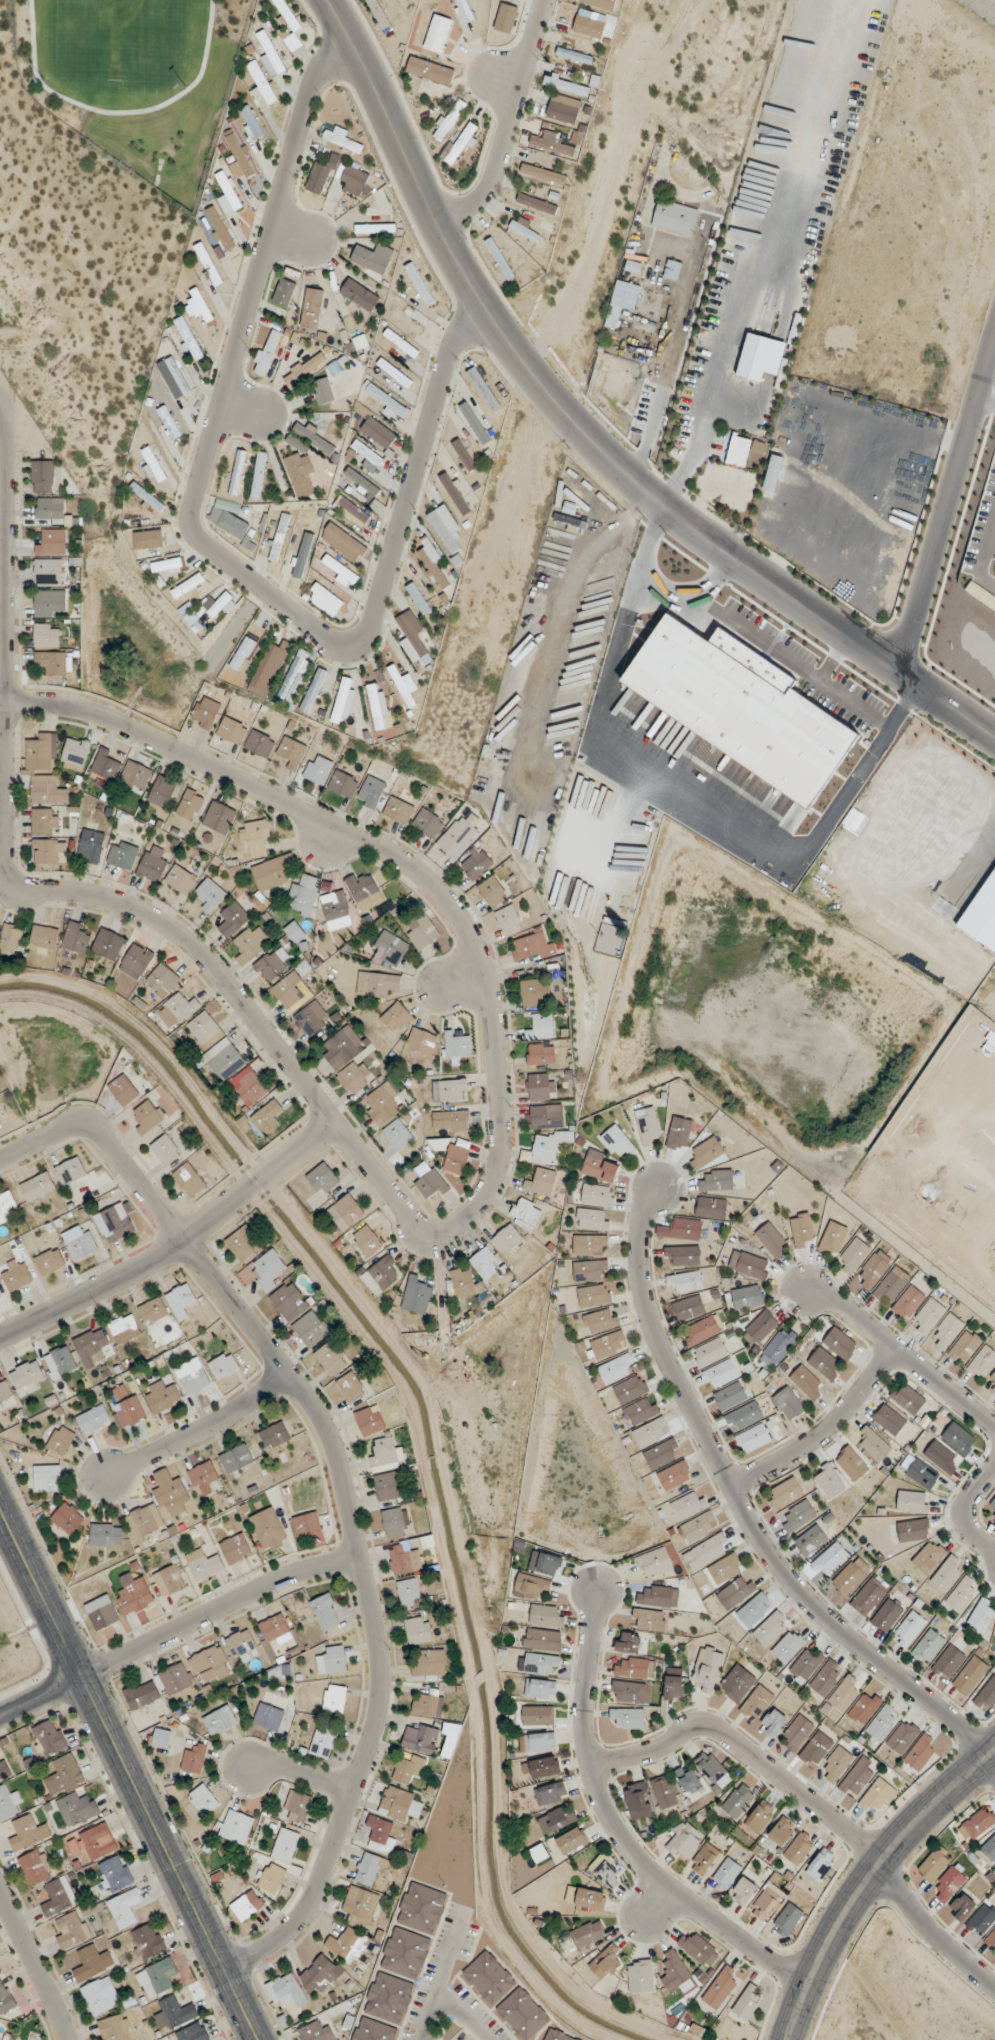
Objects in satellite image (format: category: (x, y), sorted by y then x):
building: (601, 3)
building: (464, 10)
building: (287, 15)
building: (505, 15)
road: (316, 26)
building: (588, 26)
building: (437, 33)
park: (116, 40)
building: (293, 42)
building: (269, 54)
building: (574, 55)
building: (430, 70)
road: (488, 70)
park: (136, 78)
building: (261, 82)
building: (565, 86)
building: (563, 109)
road: (118, 113)
road: (503, 118)
building: (448, 119)
building: (251, 122)
building: (343, 140)
building: (459, 142)
building: (556, 144)
building: (239, 157)
building: (543, 174)
building: (321, 175)
building: (353, 179)
building: (228, 190)
building: (536, 203)
building: (674, 218)
building: (219, 228)
building: (374, 229)
building: (524, 230)
road: (303, 235)
building: (369, 259)
building: (500, 259)
building: (207, 263)
building: (672, 270)
building: (419, 284)
building: (283, 292)
building: (359, 295)
building: (625, 295)
building: (197, 305)
building: (311, 308)
building: (406, 319)
building: (188, 338)
building: (400, 343)
building: (394, 372)
building: (174, 378)
road: (3, 389)
building: (483, 389)
building: (322, 391)
road: (2, 401)
road: (985, 402)
road: (246, 405)
road: (659, 419)
building: (168, 422)
building: (473, 423)
building: (377, 432)
road: (587, 434)
building: (314, 438)
building: (737, 451)
building: (462, 455)
building: (366, 456)
building: (153, 464)
building: (298, 469)
building: (237, 473)
building: (773, 473)
building: (258, 476)
building: (42, 477)
building: (361, 482)
building: (454, 493)
building: (147, 497)
road: (946, 501)
building: (49, 509)
building: (352, 512)
building: (227, 518)
building: (444, 527)
building: (278, 537)
building: (149, 539)
building: (343, 542)
building: (51, 543)
road: (216, 545)
building: (301, 555)
building: (431, 562)
building: (167, 565)
building: (339, 570)
building: (47, 573)
road: (715, 578)
building: (187, 585)
building: (417, 598)
building: (324, 600)
building: (49, 603)
building: (222, 605)
building: (46, 635)
building: (413, 635)
road: (760, 642)
road: (835, 658)
building: (53, 662)
building: (269, 668)
building: (294, 677)
building: (403, 686)
building: (312, 690)
building: (342, 702)
building: (376, 707)
building: (204, 712)
building: (230, 730)
building: (259, 744)
building: (42, 752)
building: (290, 752)
building: (75, 754)
building: (104, 765)
building: (317, 769)
building: (135, 774)
building: (342, 784)
building: (46, 790)
building: (161, 791)
building: (370, 792)
building: (189, 804)
building: (398, 810)
building: (219, 817)
building: (41, 822)
building: (427, 823)
building: (457, 835)
building: (255, 838)
building: (90, 843)
building: (47, 850)
road: (977, 854)
building: (122, 855)
building: (152, 863)
building: (475, 863)
building: (269, 874)
building: (180, 879)
building: (364, 891)
building: (492, 892)
building: (209, 895)
building: (300, 899)
building: (335, 910)
building: (982, 915)
building: (230, 919)
building: (508, 920)
building: (294, 932)
building: (422, 932)
building: (44, 937)
building: (74, 938)
building: (10, 939)
building: (107, 944)
building: (248, 944)
building: (531, 947)
building: (389, 950)
building: (137, 959)
building: (269, 966)
building: (162, 980)
building: (376, 984)
building: (288, 990)
building: (534, 992)
building: (177, 1010)
building: (396, 1017)
building: (308, 1020)
building: (541, 1027)
building: (421, 1040)
building: (215, 1046)
building: (342, 1047)
building: (455, 1047)
building: (541, 1054)
building: (354, 1077)
building: (541, 1087)
building: (250, 1088)
building: (123, 1090)
building: (452, 1090)
building: (382, 1103)
building: (546, 1116)
building: (146, 1117)
building: (266, 1117)
building: (451, 1121)
building: (648, 1129)
building: (398, 1134)
building: (678, 1134)
building: (618, 1142)
building: (549, 1146)
building: (165, 1150)
building: (706, 1153)
building: (456, 1156)
road: (367, 1164)
building: (599, 1166)
building: (70, 1171)
building: (188, 1179)
building: (717, 1181)
building: (540, 1182)
building: (321, 1184)
building: (431, 1184)
building: (37, 1186)
building: (597, 1196)
building: (7, 1207)
building: (711, 1208)
building: (349, 1210)
building: (525, 1214)
building: (593, 1220)
building: (113, 1223)
building: (681, 1230)
building: (801, 1230)
building: (832, 1239)
building: (366, 1240)
building: (507, 1240)
building: (771, 1240)
building: (241, 1241)
road: (177, 1244)
building: (81, 1245)
building: (589, 1245)
building: (683, 1255)
building: (853, 1255)
building: (49, 1262)
building: (485, 1263)
building: (752, 1266)
building: (267, 1270)
building: (590, 1270)
building: (872, 1270)
building: (15, 1275)
building: (381, 1275)
building: (463, 1282)
building: (685, 1282)
building: (889, 1287)
building: (417, 1294)
building: (594, 1295)
building: (0, 1296)
building: (747, 1297)
building: (180, 1300)
building: (288, 1301)
building: (908, 1303)
building: (688, 1308)
building: (152, 1311)
building: (927, 1317)
building: (601, 1321)
building: (124, 1328)
building: (311, 1329)
building: (702, 1330)
building: (946, 1332)
building: (839, 1343)
building: (90, 1345)
building: (607, 1345)
building: (778, 1347)
building: (964, 1347)
road: (897, 1348)
building: (710, 1352)
building: (330, 1358)
building: (59, 1361)
building: (982, 1363)
building: (824, 1364)
building: (222, 1366)
building: (616, 1368)
building: (720, 1374)
building: (26, 1377)
building: (192, 1377)
building: (805, 1382)
building: (991, 1383)
building: (350, 1387)
building: (4, 1389)
building: (631, 1389)
building: (730, 1396)
building: (162, 1397)
building: (907, 1398)
building: (788, 1403)
building: (130, 1411)
building: (641, 1411)
building: (745, 1415)
building: (93, 1419)
building: (889, 1419)
building: (369, 1420)
road: (199, 1430)
building: (651, 1432)
road: (828, 1433)
building: (274, 1435)
building: (753, 1438)
building: (958, 1438)
building: (60, 1440)
building: (872, 1444)
building: (386, 1454)
building: (662, 1454)
building: (941, 1457)
building: (235, 1458)
building: (851, 1463)
building: (922, 1474)
building: (674, 1475)
building: (47, 1478)
building: (203, 1478)
building: (828, 1482)
road: (343, 1485)
building: (385, 1486)
building: (169, 1492)
building: (784, 1493)
road: (742, 1502)
building: (912, 1502)
building: (689, 1505)
building: (991, 1507)
road: (967, 1513)
building: (797, 1516)
building: (67, 1518)
building: (144, 1521)
building: (394, 1521)
building: (306, 1524)
building: (698, 1527)
building: (268, 1529)
building: (913, 1530)
building: (106, 1534)
building: (810, 1540)
building: (235, 1549)
building: (706, 1551)
building: (928, 1556)
building: (404, 1559)
building: (827, 1560)
building: (655, 1563)
building: (550, 1564)
building: (201, 1565)
building: (725, 1568)
building: (947, 1573)
building: (850, 1576)
building: (168, 1580)
building: (531, 1586)
building: (410, 1591)
building: (738, 1591)
building: (961, 1593)
building: (133, 1595)
building: (659, 1597)
building: (867, 1597)
road: (218, 1608)
building: (754, 1609)
building: (325, 1612)
building: (101, 1613)
building: (886, 1616)
building: (981, 1616)
building: (546, 1617)
building: (649, 1620)
building: (273, 1627)
building: (770, 1627)
building: (909, 1629)
building: (418, 1630)
building: (543, 1640)
building: (628, 1642)
building: (242, 1646)
building: (788, 1646)
building: (927, 1646)
building: (332, 1661)
building: (948, 1662)
building: (429, 1663)
building: (806, 1663)
building: (541, 1664)
building: (210, 1665)
building: (634, 1668)
building: (707, 1669)
building: (280, 1671)
building: (969, 1676)
building: (826, 1678)
building: (175, 1680)
building: (737, 1684)
building: (539, 1688)
building: (674, 1688)
building: (631, 1692)
building: (844, 1693)
building: (141, 1694)
road: (41, 1696)
building: (984, 1698)
building: (334, 1699)
building: (756, 1702)
building: (427, 1705)
building: (864, 1708)
building: (538, 1716)
building: (268, 1717)
building: (626, 1718)
building: (219, 1720)
building: (773, 1722)
building: (882, 1722)
building: (797, 1732)
building: (902, 1737)
building: (48, 1738)
building: (161, 1738)
building: (420, 1739)
building: (542, 1741)
building: (322, 1743)
building: (449, 1743)
building: (815, 1749)
building: (920, 1753)
road: (745, 1754)
road: (993, 1754)
building: (194, 1759)
building: (836, 1764)
building: (540, 1768)
building: (3, 1769)
building: (408, 1769)
building: (712, 1769)
road: (300, 1771)
road: (129, 1773)
building: (63, 1776)
building: (687, 1778)
building: (856, 1778)
building: (664, 1791)
building: (550, 1794)
building: (636, 1798)
building: (875, 1798)
building: (203, 1800)
building: (737, 1801)
building: (8, 1803)
building: (398, 1804)
building: (297, 1807)
building: (76, 1809)
building: (758, 1818)
building: (557, 1819)
building: (979, 1823)
building: (236, 1827)
road: (615, 1831)
building: (781, 1831)
building: (27, 1833)
building: (381, 1833)
building: (571, 1841)
building: (683, 1841)
building: (92, 1843)
building: (285, 1845)
building: (799, 1848)
building: (989, 1849)
building: (539, 1853)
building: (704, 1859)
building: (934, 1863)
building: (820, 1865)
building: (35, 1867)
building: (369, 1868)
building: (606, 1872)
building: (114, 1874)
building: (725, 1874)
road: (867, 1877)
building: (271, 1878)
building: (948, 1884)
building: (742, 1890)
building: (55, 1897)
building: (590, 1901)
building: (766, 1901)
building: (360, 1903)
building: (246, 1905)
building: (962, 1907)
building: (124, 1908)
building: (421, 1908)
building: (981, 1919)
building: (787, 1920)
road: (929, 1928)
building: (71, 1930)
building: (587, 1935)
building: (990, 1940)
building: (146, 1942)
building: (347, 1946)
building: (698, 1948)
building: (404, 1953)
road: (445, 1957)
building: (91, 1962)
building: (605, 1962)
road: (35, 1964)
building: (676, 1973)
building: (319, 1974)
building: (640, 1976)
building: (157, 1977)
building: (487, 1978)
building: (719, 1988)
building: (286, 1991)
building: (100, 1996)
building: (5, 1997)
building: (388, 1998)
building: (746, 2003)
building: (174, 2013)
building: (520, 2014)
road: (463, 2015)
road: (427, 2018)
building: (114, 2028)
building: (373, 2030)
building: (316, 2031)
building: (192, 2033)
building: (556, 2035)

